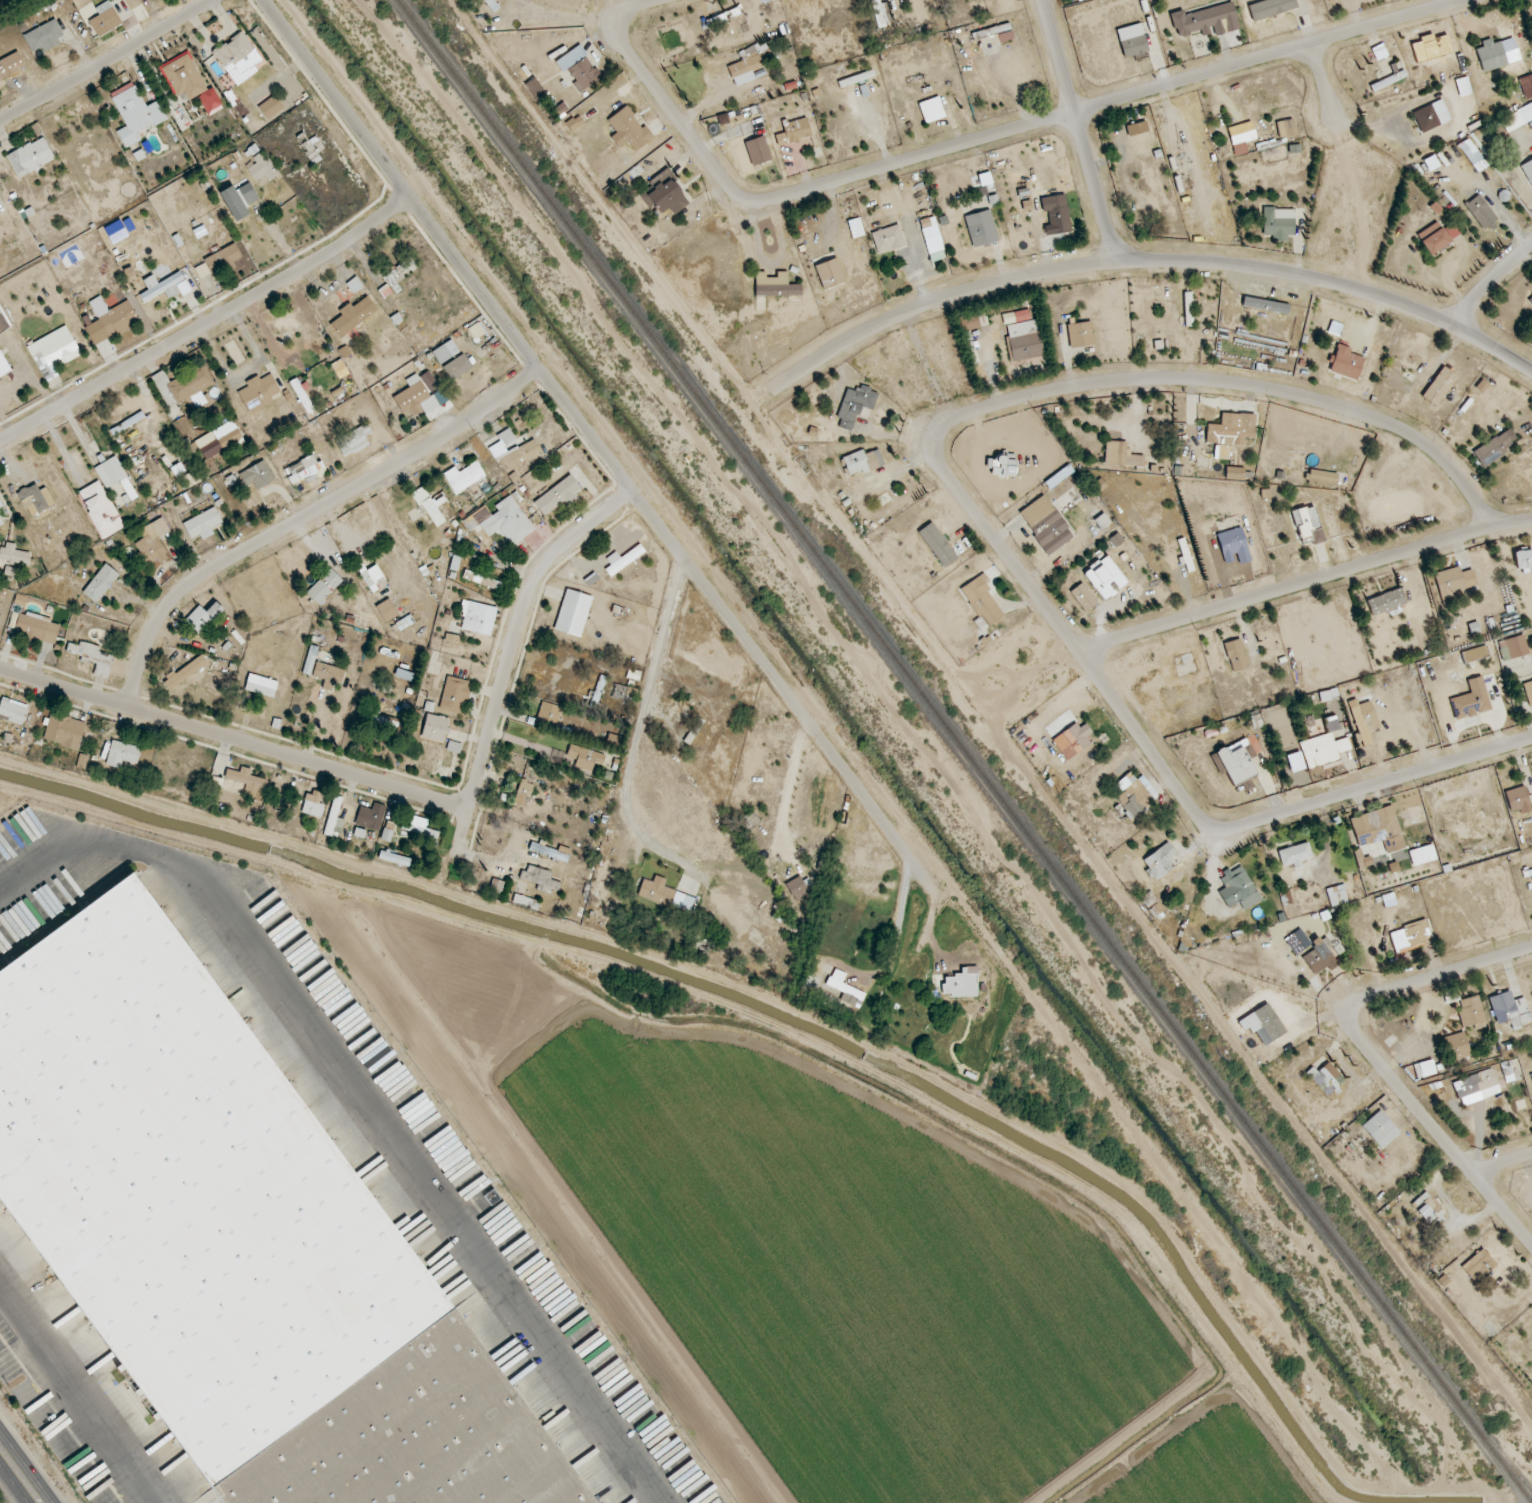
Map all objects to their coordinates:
building: (492, 5)
road: (638, 6)
building: (1270, 8)
road: (565, 15)
building: (880, 17)
building: (104, 19)
building: (1206, 21)
building: (44, 36)
building: (1003, 36)
building: (1132, 40)
building: (1379, 52)
building: (1497, 54)
building: (238, 58)
building: (749, 61)
road: (106, 62)
building: (11, 65)
building: (578, 68)
building: (184, 77)
road: (1321, 80)
building: (1463, 86)
building: (1526, 86)
building: (210, 102)
building: (270, 107)
building: (931, 110)
building: (135, 113)
building: (1431, 116)
building: (1517, 118)
building: (575, 123)
building: (1136, 128)
building: (1286, 128)
building: (628, 129)
road: (1079, 129)
building: (793, 131)
road: (991, 135)
building: (1241, 141)
building: (757, 150)
building: (312, 151)
building: (1472, 155)
building: (30, 157)
building: (262, 168)
building: (1527, 170)
building: (248, 193)
building: (664, 193)
building: (234, 203)
building: (1480, 212)
building: (1057, 213)
building: (1278, 222)
building: (855, 228)
building: (981, 228)
building: (1453, 230)
building: (931, 235)
building: (888, 239)
building: (1435, 241)
road: (448, 246)
building: (225, 256)
road: (1137, 260)
building: (202, 270)
building: (829, 273)
road: (1489, 281)
building: (390, 283)
building: (355, 285)
building: (775, 285)
building: (165, 287)
building: (1530, 299)
building: (1265, 305)
building: (353, 315)
building: (116, 318)
building: (3, 322)
building: (968, 322)
road: (207, 323)
building: (1080, 334)
building: (1022, 336)
building: (53, 351)
building: (441, 354)
building: (1345, 362)
building: (3, 366)
building: (456, 367)
building: (429, 381)
road: (1093, 383)
building: (182, 384)
building: (1439, 386)
building: (1481, 386)
building: (258, 392)
building: (418, 398)
building: (855, 406)
building: (183, 427)
building: (1230, 433)
building: (218, 439)
building: (353, 440)
building: (513, 450)
building: (1492, 450)
building: (1121, 455)
building: (860, 462)
building: (1002, 465)
building: (306, 469)
building: (1235, 473)
building: (114, 475)
building: (257, 475)
building: (1059, 476)
building: (464, 477)
building: (1321, 479)
building: (557, 495)
building: (35, 499)
building: (429, 506)
building: (100, 509)
road: (305, 516)
building: (501, 521)
building: (1102, 521)
building: (0, 523)
building: (202, 524)
building: (1046, 525)
building: (1308, 525)
building: (1116, 539)
building: (153, 544)
building: (937, 544)
building: (1234, 546)
building: (13, 554)
building: (623, 559)
building: (1523, 559)
building: (11, 571)
building: (372, 577)
building: (1105, 577)
building: (481, 578)
building: (1454, 581)
road: (1307, 582)
building: (100, 583)
building: (324, 586)
building: (1082, 597)
building: (20, 600)
building: (982, 600)
building: (1386, 601)
building: (387, 610)
building: (573, 613)
building: (202, 617)
building: (477, 617)
building: (402, 624)
building: (36, 627)
road: (660, 638)
building: (451, 639)
building: (1513, 647)
building: (1476, 650)
building: (1236, 655)
building: (93, 658)
road: (510, 660)
building: (184, 672)
building: (329, 674)
building: (261, 685)
building: (1528, 691)
road: (786, 692)
building: (454, 695)
building: (1471, 700)
building: (13, 711)
building: (549, 713)
building: (1364, 721)
building: (435, 728)
building: (64, 731)
road: (235, 739)
building: (1073, 740)
building: (454, 746)
railway: (965, 749)
building: (1322, 750)
building: (122, 754)
building: (585, 758)
building: (82, 761)
building: (1235, 761)
building: (1295, 762)
building: (247, 779)
road: (628, 779)
road: (790, 786)
building: (523, 793)
building: (1518, 799)
building: (1133, 800)
building: (313, 804)
building: (370, 816)
road: (1268, 818)
building: (334, 819)
building: (420, 827)
building: (1378, 829)
building: (359, 832)
building: (386, 834)
building: (552, 853)
building: (1295, 855)
building: (1422, 855)
building: (394, 858)
building: (1159, 861)
building: (540, 879)
building: (1238, 888)
building: (797, 889)
building: (664, 894)
building: (1337, 895)
building: (526, 902)
road: (896, 925)
building: (1410, 936)
building: (1297, 942)
building: (1319, 957)
building: (961, 983)
building: (844, 988)
building: (1510, 1010)
building: (1472, 1013)
building: (1264, 1022)
building: (1457, 1046)
road: (1374, 1055)
building: (1424, 1068)
building: (1531, 1076)
building: (1327, 1078)
building: (1476, 1087)
building: (1380, 1129)
road: (1503, 1161)
building: (491, 1197)
building: (1426, 1208)
building: (235, 1240)
building: (1478, 1265)
road: (77, 1397)
road: (19, 1476)

